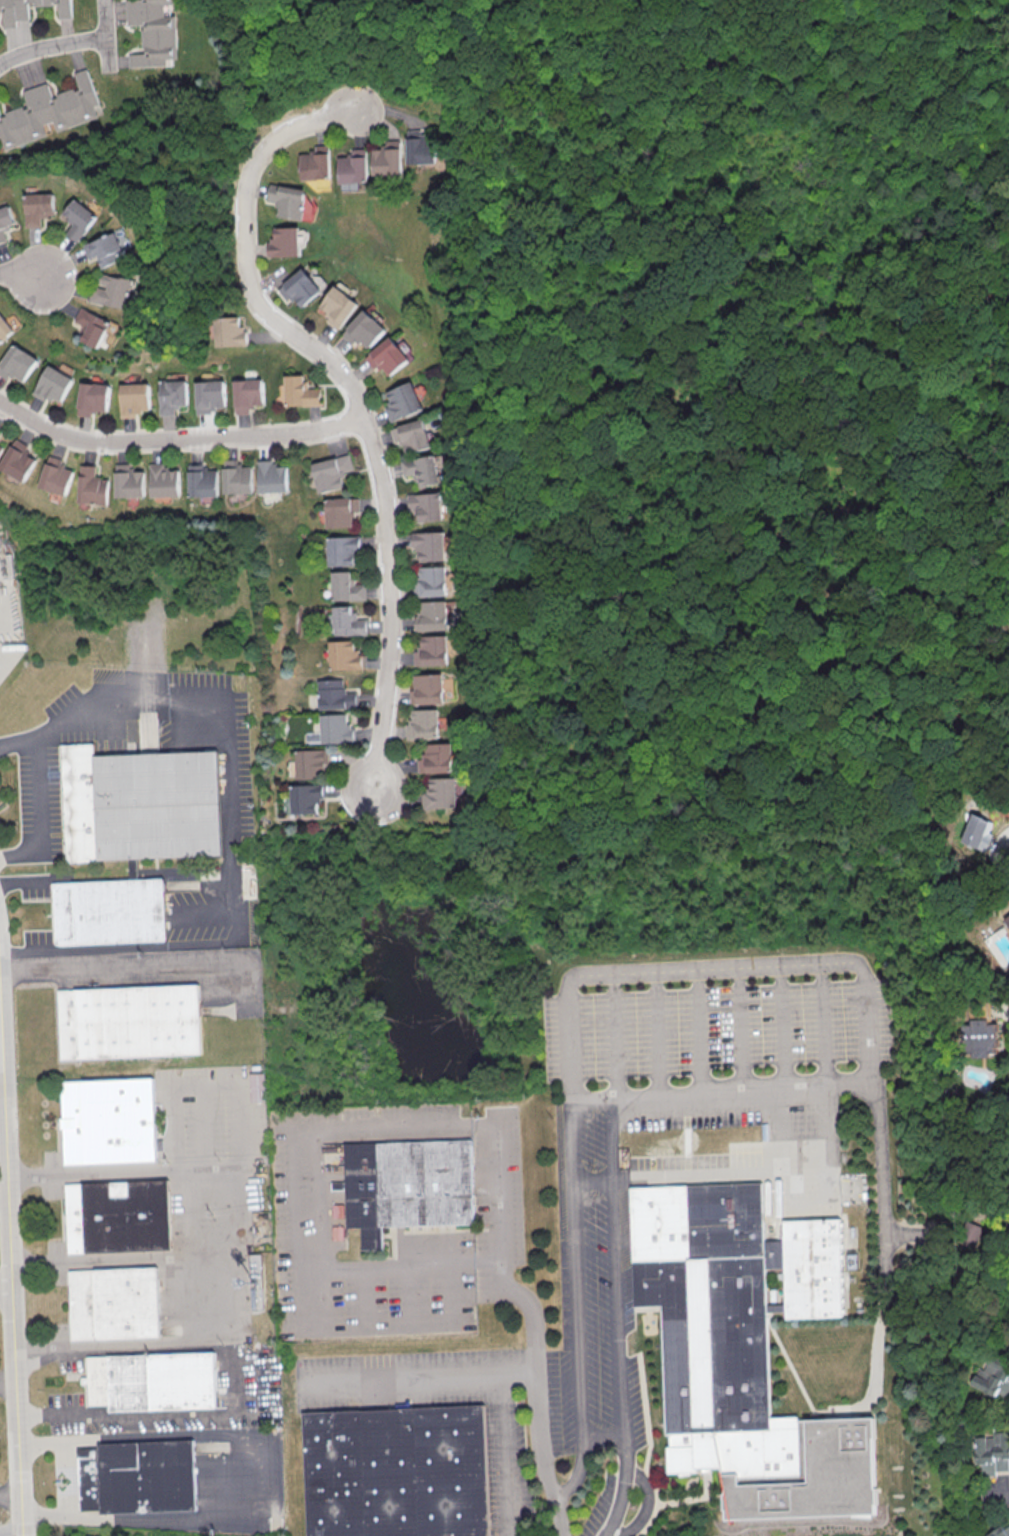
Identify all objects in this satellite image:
building: (29, 9)
road: (904, 14)
road: (105, 19)
river: (995, 24)
building: (153, 32)
road: (51, 48)
road: (927, 52)
road: (107, 54)
building: (48, 111)
building: (422, 147)
road: (525, 149)
building: (388, 159)
building: (315, 163)
building: (354, 166)
building: (287, 200)
building: (37, 208)
building: (78, 218)
building: (5, 221)
building: (284, 242)
building: (103, 249)
road: (30, 278)
building: (300, 288)
building: (112, 291)
building: (338, 307)
building: (93, 326)
building: (4, 328)
building: (364, 329)
building: (229, 332)
building: (387, 356)
building: (17, 363)
building: (54, 384)
building: (300, 392)
park: (722, 392)
building: (247, 394)
building: (209, 395)
building: (172, 396)
building: (94, 398)
building: (135, 398)
road: (355, 400)
building: (402, 401)
building: (412, 436)
road: (176, 440)
building: (1, 448)
building: (19, 460)
building: (422, 469)
building: (332, 472)
building: (57, 476)
building: (272, 476)
building: (238, 477)
road: (534, 477)
building: (165, 480)
building: (130, 481)
building: (203, 481)
building: (94, 486)
building: (428, 505)
building: (342, 511)
building: (431, 545)
building: (344, 550)
building: (432, 581)
building: (347, 587)
building: (432, 615)
building: (348, 621)
building: (998, 635)
building: (431, 651)
building: (345, 655)
building: (427, 689)
building: (336, 695)
building: (423, 724)
building: (336, 729)
building: (438, 758)
building: (311, 763)
road: (769, 779)
building: (440, 794)
building: (307, 798)
building: (143, 805)
road: (40, 812)
road: (236, 822)
building: (978, 831)
road: (996, 845)
road: (999, 849)
building: (136, 870)
building: (111, 912)
road: (207, 913)
building: (1007, 920)
road: (122, 964)
road: (706, 968)
road: (999, 1009)
building: (131, 1022)
road: (863, 1026)
road: (738, 1029)
building: (978, 1030)
road: (695, 1032)
road: (655, 1034)
road: (612, 1036)
road: (0, 1050)
road: (219, 1083)
building: (257, 1086)
road: (822, 1087)
road: (779, 1088)
road: (737, 1092)
road: (590, 1100)
road: (1, 1117)
building: (110, 1121)
road: (293, 1129)
road: (880, 1159)
road: (678, 1180)
building: (409, 1187)
road: (3, 1194)
road: (495, 1205)
road: (986, 1209)
building: (339, 1211)
road: (806, 1212)
building: (119, 1218)
road: (318, 1227)
building: (338, 1233)
building: (968, 1233)
road: (119, 1261)
road: (397, 1264)
road: (576, 1269)
road: (10, 1285)
road: (5, 1289)
road: (233, 1298)
building: (116, 1303)
road: (617, 1319)
road: (311, 1327)
road: (125, 1346)
building: (745, 1350)
road: (421, 1379)
building: (993, 1379)
road: (7, 1381)
building: (153, 1381)
road: (537, 1386)
road: (602, 1438)
road: (56, 1442)
building: (993, 1452)
road: (509, 1455)
road: (262, 1472)
building: (397, 1472)
building: (139, 1477)
road: (69, 1479)
road: (9, 1496)
road: (645, 1509)
road: (59, 1516)
road: (10, 1532)

